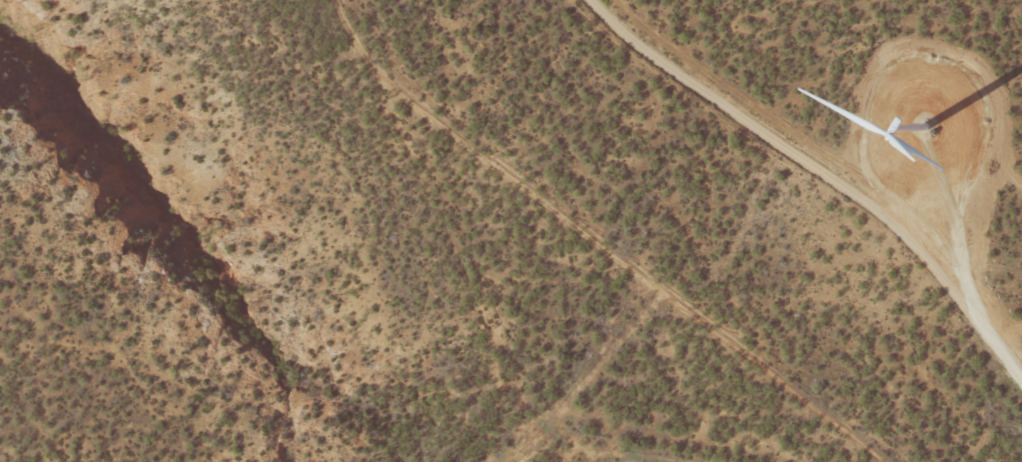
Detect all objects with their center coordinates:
wind turbine: (927, 136)
road: (828, 175)

